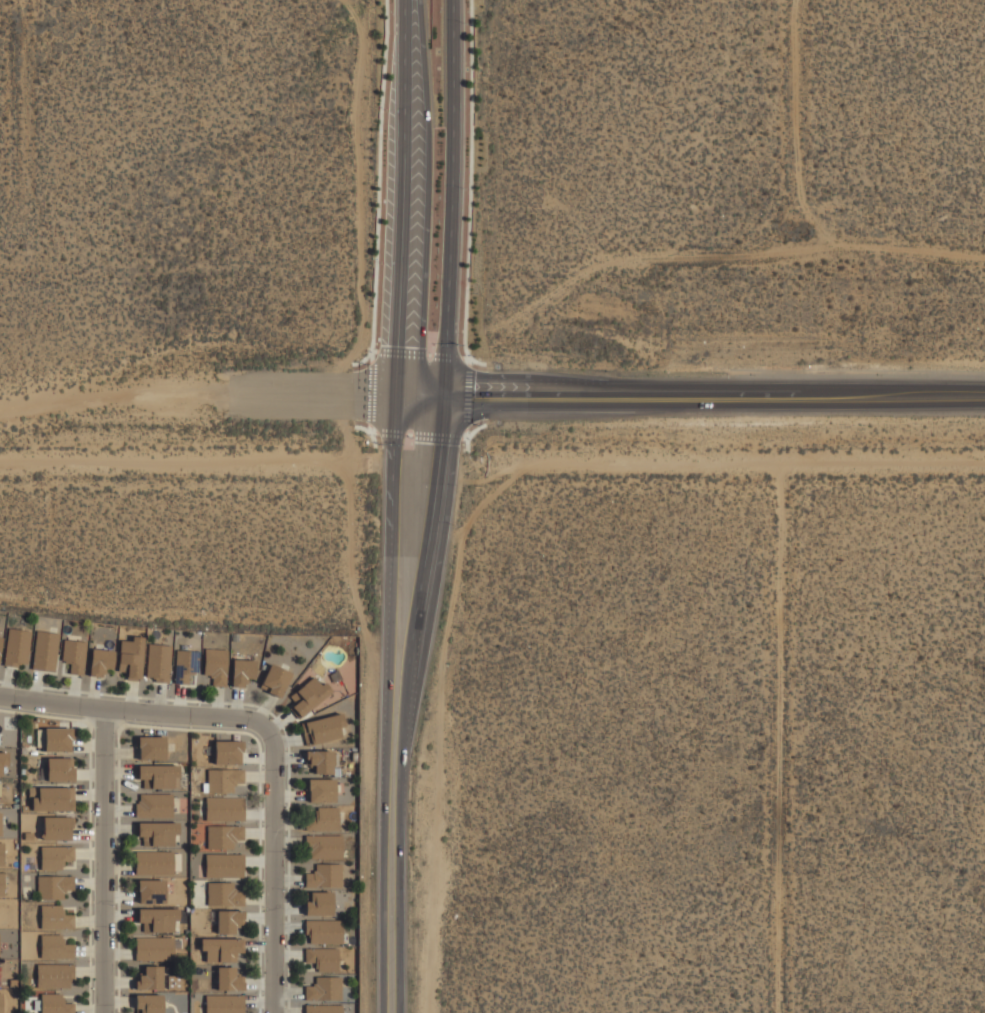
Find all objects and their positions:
road: (404, 176)
road: (377, 187)
road: (470, 187)
road: (452, 192)
road: (375, 350)
road: (402, 352)
road: (429, 354)
road: (447, 355)
road: (371, 357)
road: (464, 357)
road: (469, 361)
road: (398, 368)
traffic signals: (397, 384)
road: (421, 384)
traffic signals: (446, 385)
road: (369, 388)
road: (626, 390)
road: (896, 390)
road: (370, 392)
road: (112, 393)
road: (284, 394)
road: (446, 396)
road: (466, 396)
road: (368, 404)
road: (715, 404)
traffic signals: (396, 407)
road: (421, 407)
traffic signals: (446, 408)
road: (394, 424)
road: (369, 431)
road: (369, 431)
road: (390, 433)
road: (466, 433)
road: (469, 433)
road: (408, 434)
road: (436, 435)
road: (463, 438)
road: (423, 589)
road: (393, 618)
building: (0, 642)
building: (17, 647)
building: (45, 651)
building: (74, 655)
building: (131, 657)
building: (100, 662)
building: (158, 662)
building: (215, 665)
building: (242, 672)
building: (275, 680)
building: (310, 695)
building: (324, 728)
building: (57, 739)
road: (268, 739)
building: (151, 747)
building: (227, 752)
building: (320, 761)
building: (59, 769)
building: (159, 775)
building: (223, 779)
building: (321, 790)
building: (51, 799)
building: (224, 808)
building: (155, 818)
building: (323, 819)
building: (0, 824)
building: (56, 828)
building: (223, 836)
building: (323, 846)
building: (1, 854)
building: (55, 856)
road: (104, 863)
building: (324, 875)
building: (1, 884)
building: (53, 886)
building: (154, 889)
road: (391, 891)
building: (318, 903)
building: (55, 918)
building: (323, 931)
building: (54, 947)
building: (155, 948)
building: (322, 958)
building: (54, 975)
building: (228, 981)
building: (323, 989)
building: (0, 1002)
building: (148, 1003)
building: (54, 1004)
building: (223, 1004)
building: (323, 1008)
building: (346, 1010)

